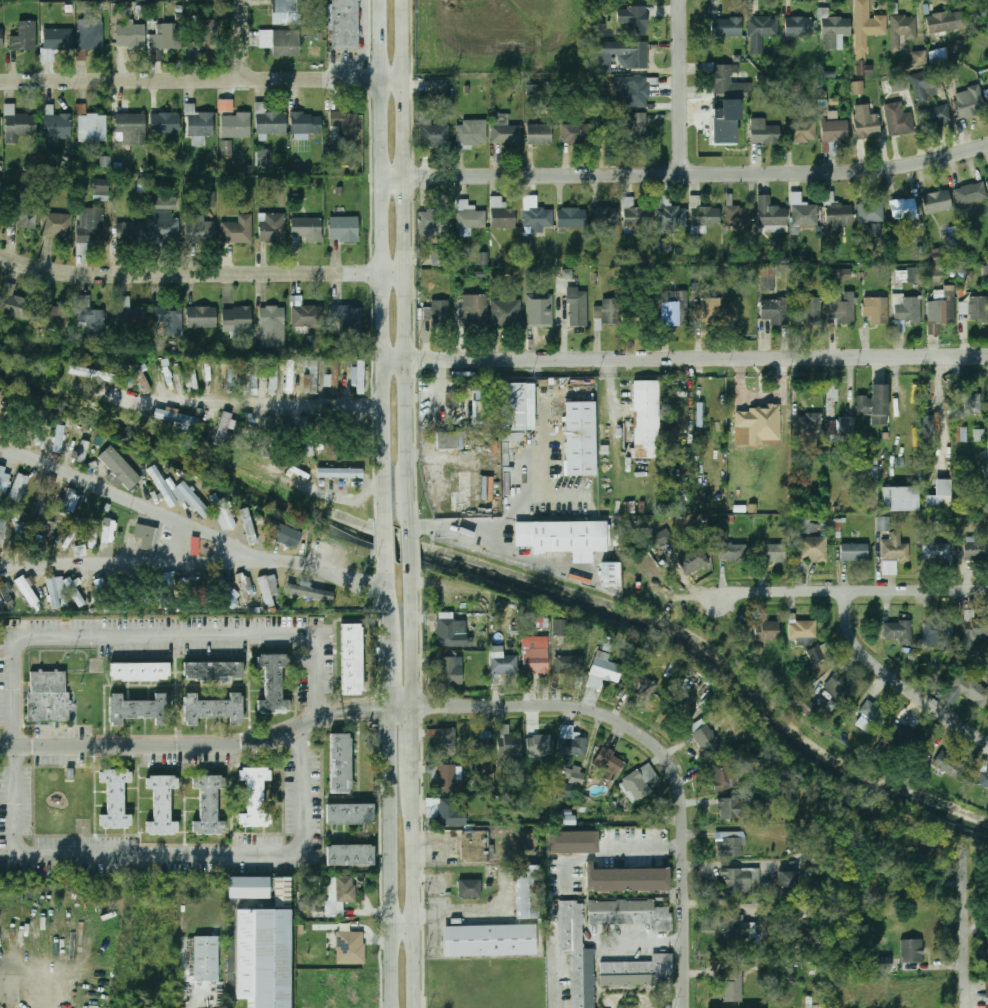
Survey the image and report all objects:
building: (646, 0)
building: (648, 0)
building: (987, 0)
building: (285, 12)
building: (634, 20)
building: (945, 21)
building: (345, 24)
building: (798, 26)
building: (725, 27)
building: (833, 29)
building: (902, 31)
building: (761, 32)
building: (866, 33)
building: (91, 35)
building: (131, 36)
building: (24, 37)
road: (244, 37)
building: (162, 38)
building: (1, 39)
building: (58, 39)
building: (281, 41)
building: (198, 42)
building: (629, 54)
building: (934, 57)
building: (917, 60)
building: (949, 71)
road: (202, 75)
building: (724, 82)
building: (899, 83)
building: (926, 84)
building: (439, 86)
road: (682, 87)
building: (857, 87)
building: (639, 92)
building: (969, 102)
building: (228, 104)
building: (935, 116)
building: (898, 119)
building: (269, 120)
building: (723, 121)
building: (199, 122)
building: (165, 123)
building: (306, 123)
building: (866, 123)
building: (346, 124)
building: (236, 125)
building: (56, 126)
building: (21, 127)
building: (93, 128)
building: (131, 128)
building: (638, 128)
building: (834, 131)
building: (763, 132)
building: (800, 132)
building: (471, 133)
building: (605, 133)
building: (436, 134)
building: (506, 134)
building: (539, 134)
building: (577, 134)
building: (226, 149)
building: (264, 157)
road: (684, 175)
building: (0, 186)
building: (103, 187)
building: (970, 193)
building: (208, 200)
building: (937, 201)
building: (903, 209)
building: (803, 211)
building: (22, 212)
building: (870, 213)
building: (502, 214)
building: (704, 214)
building: (836, 214)
building: (771, 215)
building: (469, 216)
building: (636, 216)
building: (670, 216)
building: (738, 216)
building: (538, 217)
building: (606, 217)
building: (571, 218)
building: (435, 220)
building: (57, 225)
building: (164, 226)
building: (273, 227)
building: (90, 228)
building: (307, 229)
building: (344, 229)
building: (876, 229)
building: (238, 230)
building: (200, 231)
building: (131, 232)
building: (919, 236)
building: (939, 255)
building: (441, 257)
building: (483, 258)
road: (379, 263)
road: (407, 266)
road: (202, 273)
building: (840, 273)
building: (915, 275)
building: (934, 276)
building: (767, 278)
building: (16, 304)
building: (841, 306)
building: (578, 307)
building: (975, 308)
building: (876, 309)
building: (941, 309)
building: (540, 310)
building: (809, 310)
building: (708, 311)
building: (773, 311)
building: (475, 312)
building: (506, 313)
building: (607, 313)
building: (678, 313)
building: (907, 313)
building: (346, 314)
building: (440, 314)
building: (307, 316)
building: (91, 317)
building: (131, 317)
building: (202, 317)
building: (53, 318)
building: (168, 319)
building: (237, 319)
building: (272, 326)
road: (683, 354)
building: (92, 373)
building: (167, 373)
building: (140, 376)
building: (193, 376)
building: (231, 376)
building: (273, 376)
building: (290, 376)
building: (312, 376)
building: (360, 378)
building: (254, 379)
building: (373, 379)
building: (333, 380)
road: (440, 388)
building: (646, 397)
road: (249, 402)
building: (484, 402)
building: (970, 402)
building: (874, 404)
building: (514, 406)
building: (36, 420)
building: (306, 422)
building: (760, 423)
building: (810, 424)
building: (171, 425)
building: (223, 429)
building: (846, 429)
building: (930, 430)
building: (831, 431)
building: (960, 433)
building: (979, 435)
building: (580, 436)
building: (59, 438)
building: (451, 441)
building: (334, 447)
road: (11, 448)
building: (311, 449)
building: (82, 453)
road: (11, 454)
road: (544, 458)
building: (119, 467)
building: (289, 469)
building: (339, 471)
building: (868, 477)
building: (5, 478)
building: (19, 487)
building: (174, 491)
building: (463, 492)
building: (939, 496)
building: (44, 497)
road: (557, 497)
building: (900, 498)
building: (68, 499)
road: (356, 499)
building: (3, 510)
building: (222, 511)
road: (508, 518)
building: (883, 524)
building: (92, 526)
building: (248, 526)
building: (806, 527)
road: (200, 530)
road: (483, 530)
building: (108, 531)
building: (1, 533)
building: (22, 534)
building: (283, 534)
building: (561, 535)
building: (146, 537)
building: (663, 537)
building: (69, 541)
road: (384, 541)
building: (195, 546)
road: (412, 546)
building: (894, 548)
building: (975, 548)
building: (813, 549)
building: (79, 551)
building: (936, 551)
building: (731, 552)
building: (854, 552)
building: (773, 553)
building: (693, 560)
road: (126, 562)
building: (611, 575)
building: (167, 579)
river: (506, 580)
building: (99, 581)
road: (387, 589)
road: (852, 590)
building: (27, 591)
building: (226, 591)
building: (307, 591)
building: (442, 591)
building: (75, 592)
building: (288, 592)
building: (1, 602)
building: (561, 628)
building: (802, 629)
building: (766, 631)
building: (898, 631)
road: (412, 632)
building: (974, 632)
building: (452, 633)
building: (933, 633)
building: (818, 653)
building: (536, 655)
building: (352, 659)
road: (389, 663)
building: (504, 665)
building: (568, 665)
building: (213, 670)
building: (450, 670)
building: (140, 671)
building: (604, 671)
road: (896, 680)
building: (273, 685)
building: (642, 685)
building: (841, 687)
building: (966, 690)
building: (48, 697)
building: (805, 705)
road: (365, 707)
building: (213, 708)
building: (139, 709)
building: (871, 715)
building: (905, 735)
building: (705, 738)
building: (446, 742)
building: (538, 742)
building: (571, 742)
road: (173, 743)
building: (485, 744)
road: (653, 744)
road: (412, 745)
building: (509, 745)
road: (14, 758)
building: (608, 762)
building: (340, 763)
building: (948, 763)
building: (485, 768)
building: (441, 774)
building: (575, 774)
building: (720, 777)
building: (983, 779)
building: (641, 781)
building: (568, 790)
building: (255, 797)
building: (115, 798)
building: (162, 804)
building: (208, 804)
building: (740, 808)
building: (447, 810)
building: (350, 814)
building: (567, 820)
building: (573, 842)
building: (730, 843)
road: (643, 845)
building: (476, 846)
building: (350, 854)
road: (392, 856)
building: (626, 879)
building: (740, 880)
building: (786, 881)
building: (249, 886)
building: (469, 888)
building: (527, 890)
building: (340, 893)
road: (413, 896)
building: (796, 907)
building: (630, 913)
road: (403, 926)
road: (967, 927)
building: (737, 928)
building: (490, 940)
road: (642, 940)
building: (350, 947)
building: (987, 950)
building: (265, 951)
building: (912, 951)
building: (577, 955)
building: (207, 958)
road: (558, 959)
building: (884, 964)
building: (636, 972)
road: (230, 980)
building: (733, 986)
building: (987, 995)
road: (194, 1005)

